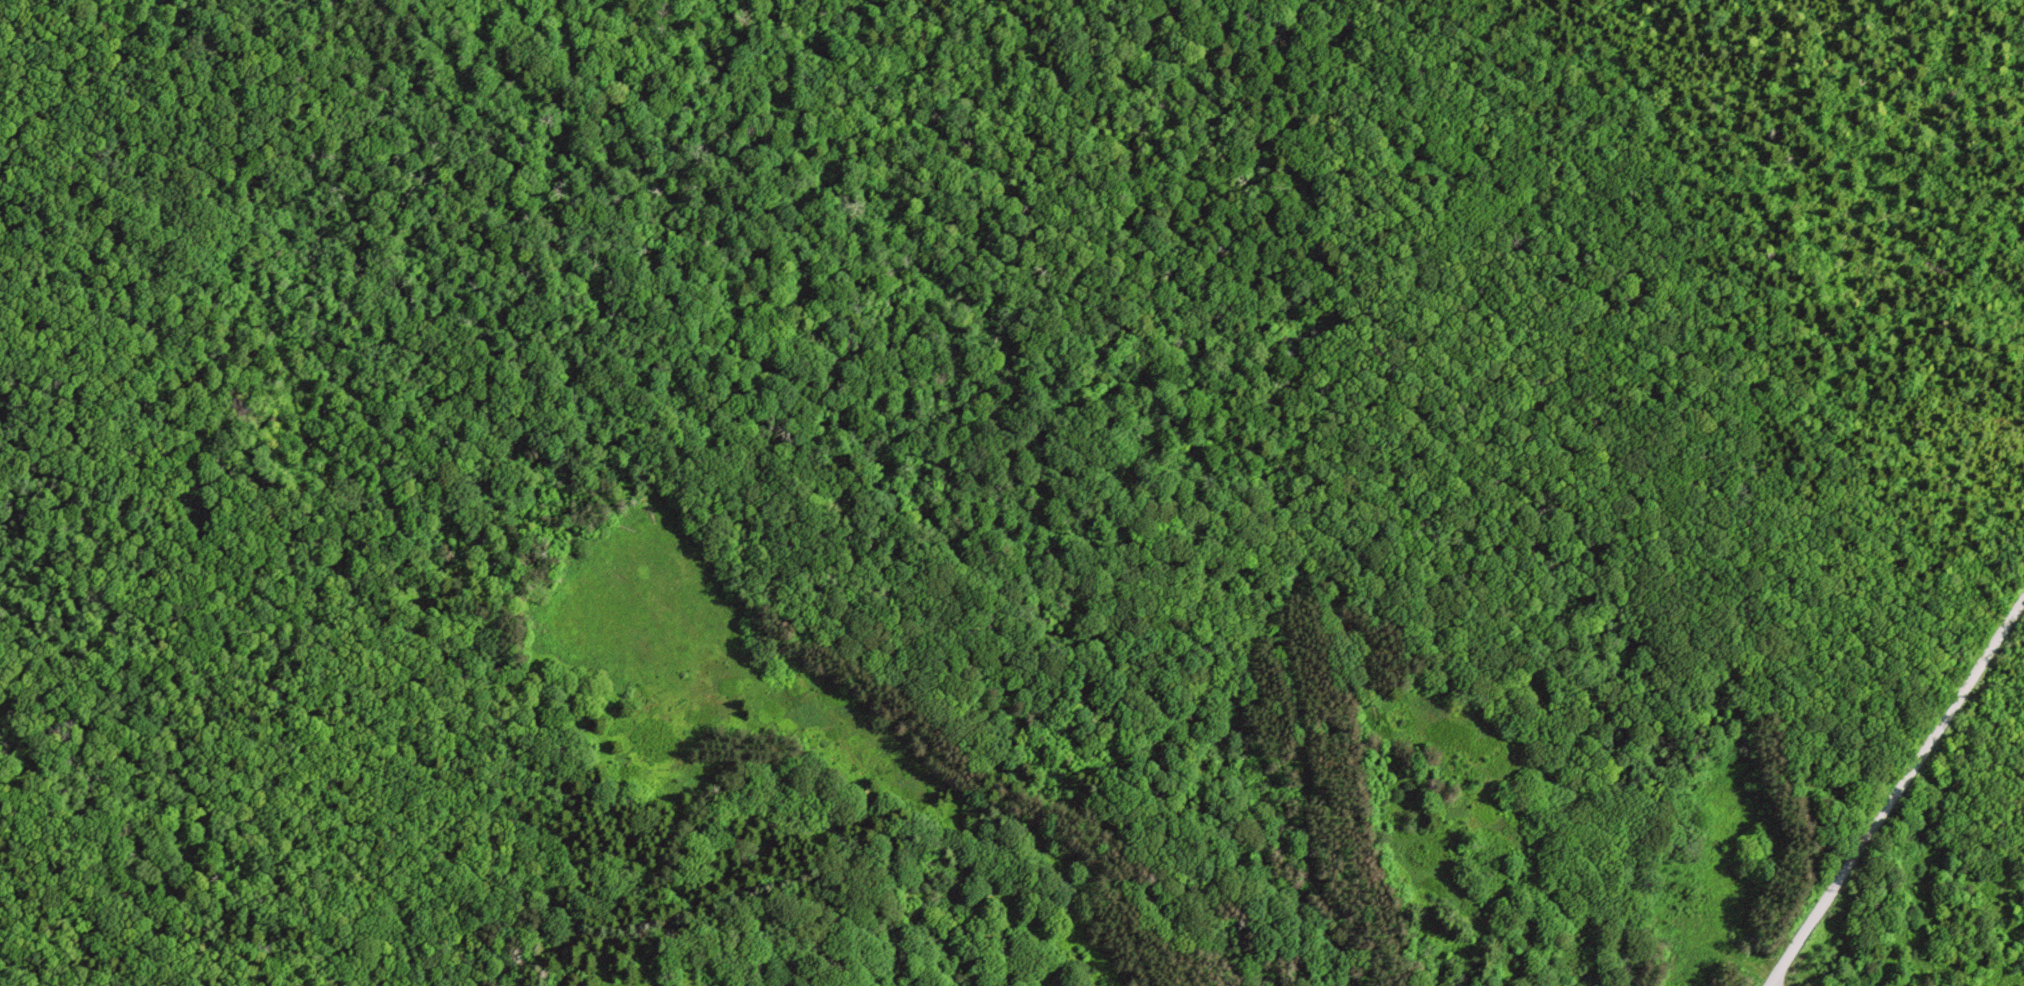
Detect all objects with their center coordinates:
road: (1896, 792)
road: (1778, 981)

